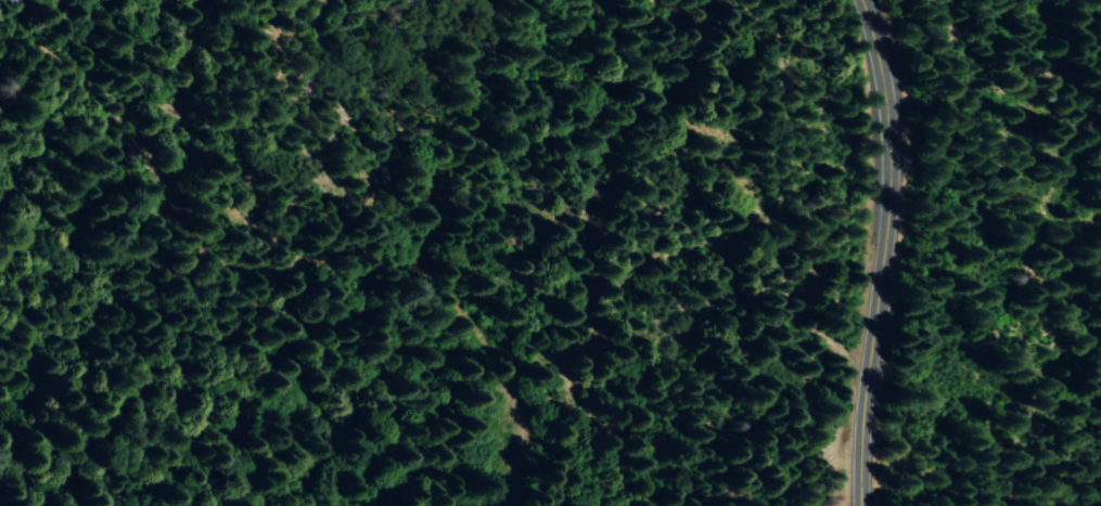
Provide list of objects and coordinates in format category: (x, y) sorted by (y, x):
road: (887, 251)

